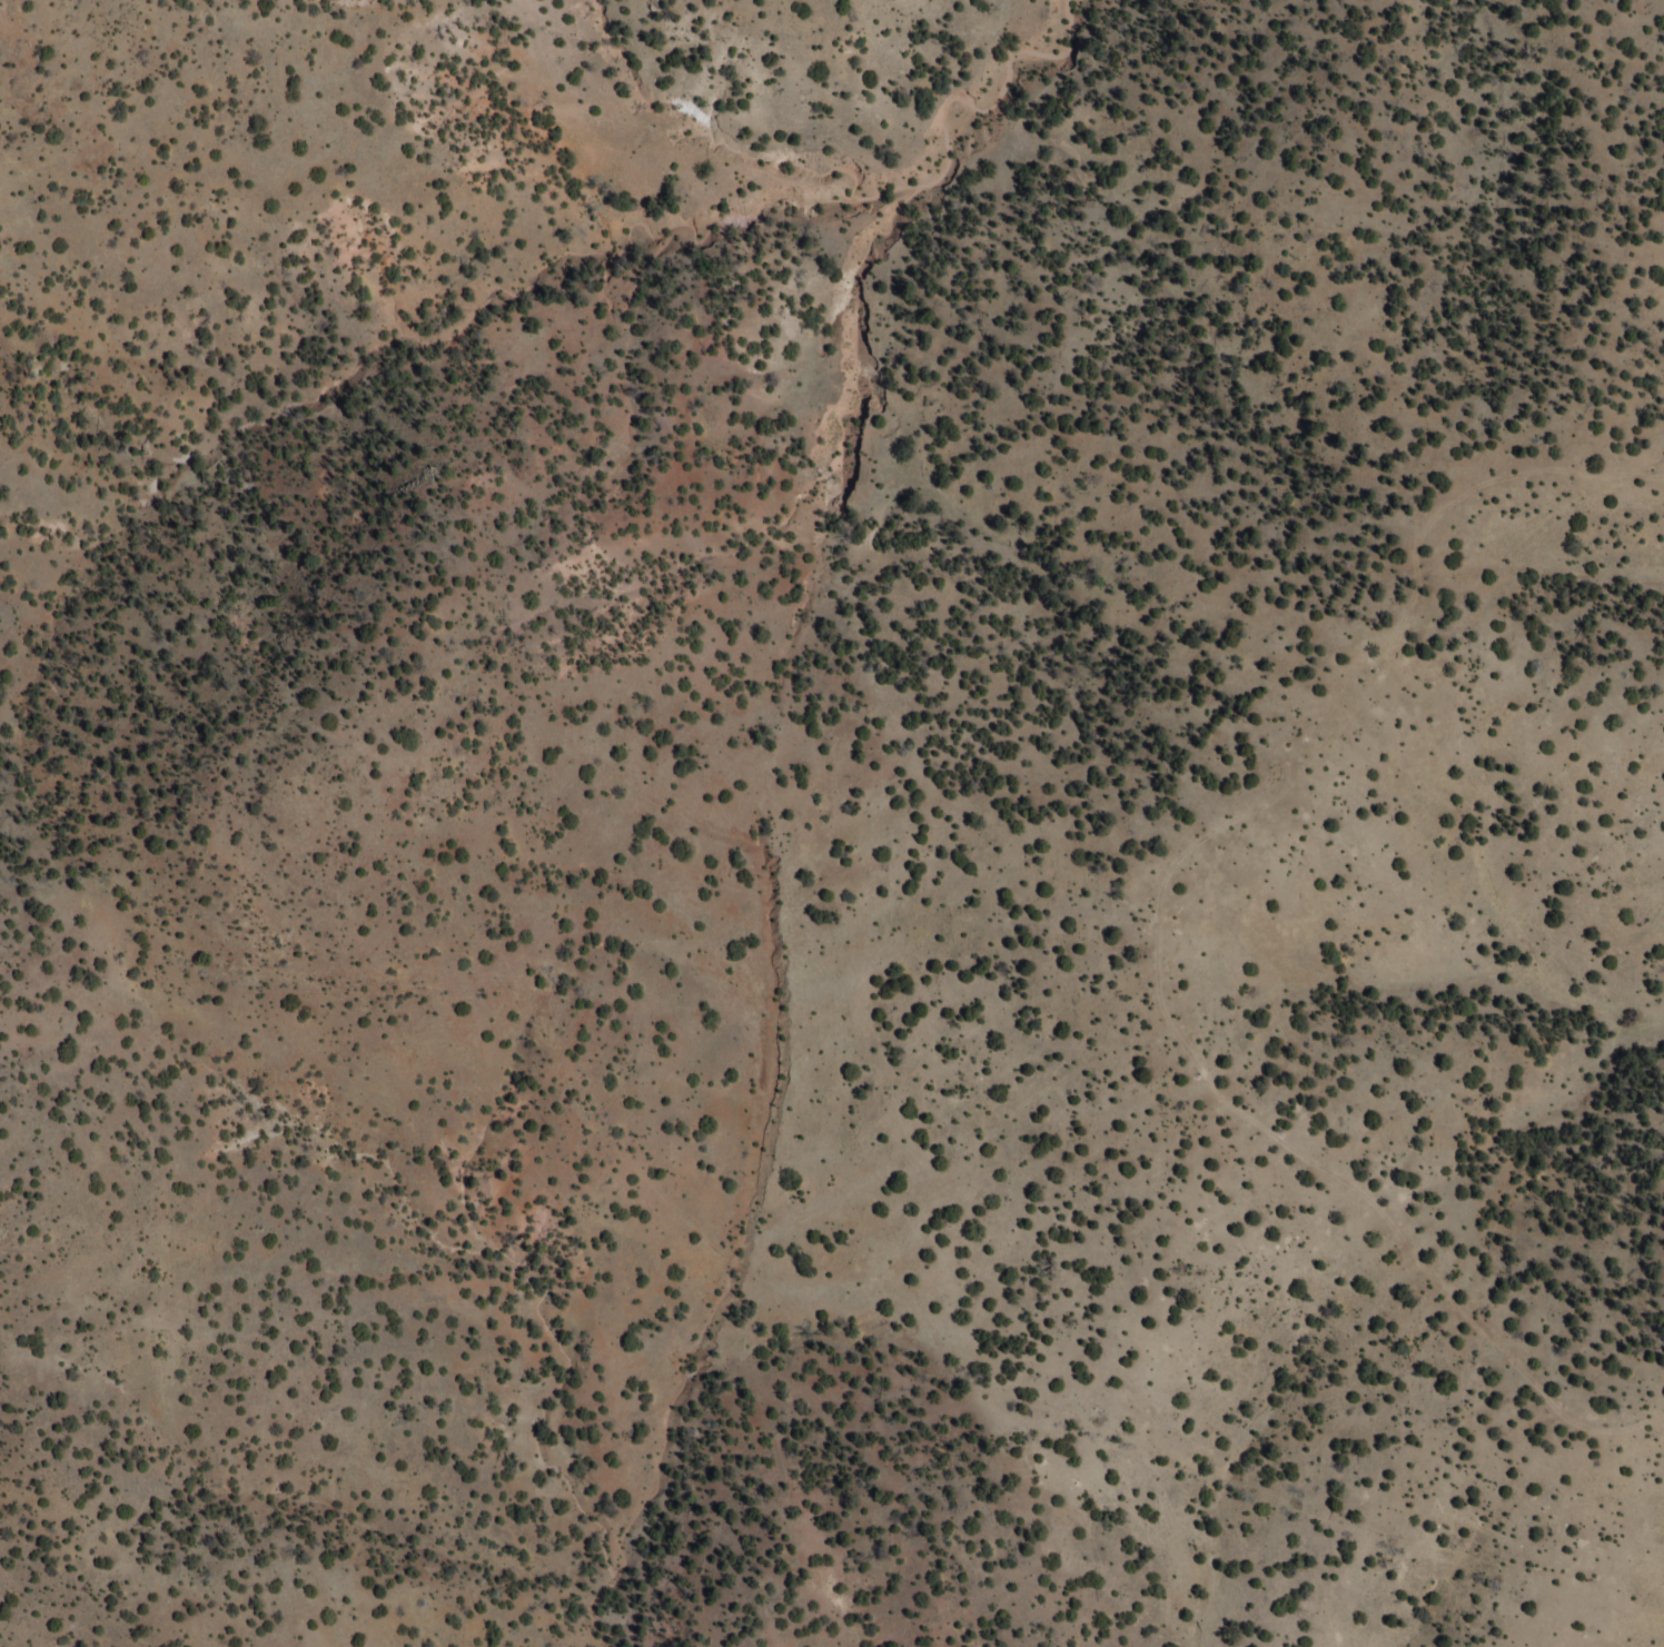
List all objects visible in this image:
road: (1156, 929)

